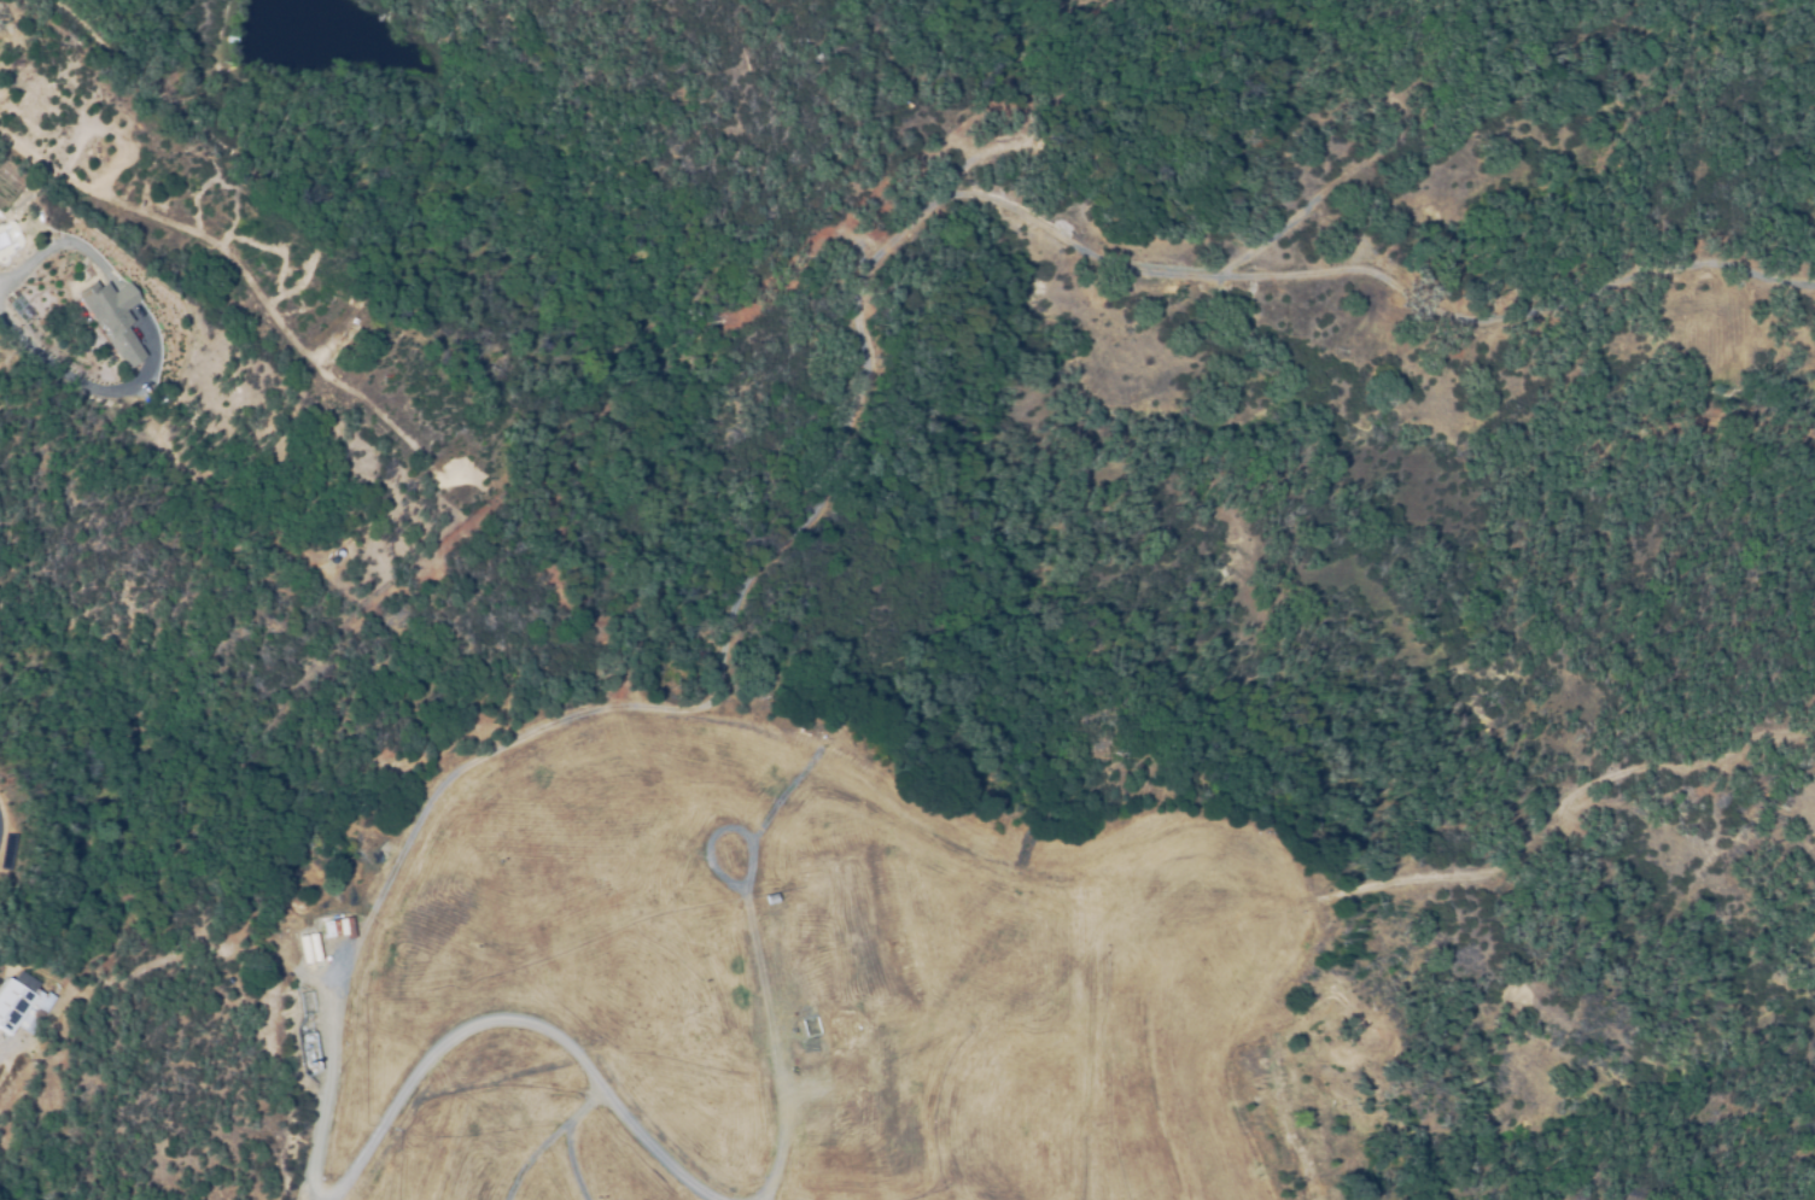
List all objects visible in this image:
road: (58, 242)
road: (122, 297)
building: (111, 321)
road: (99, 390)
building: (770, 897)
building: (22, 1003)

